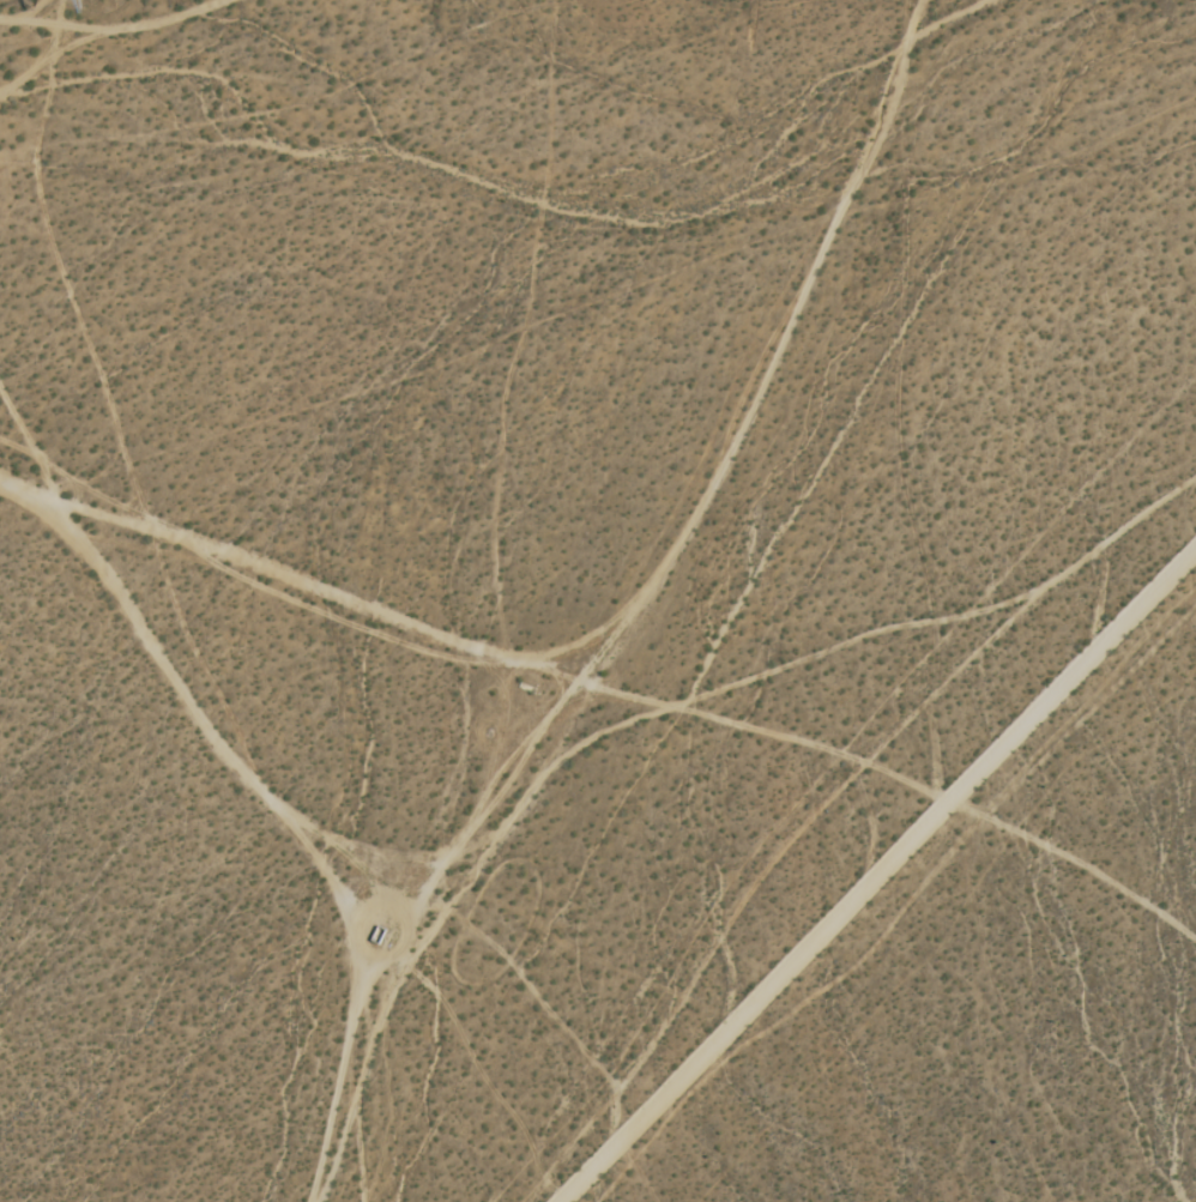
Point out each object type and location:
road: (472, 640)
road: (1075, 863)
road: (874, 874)

